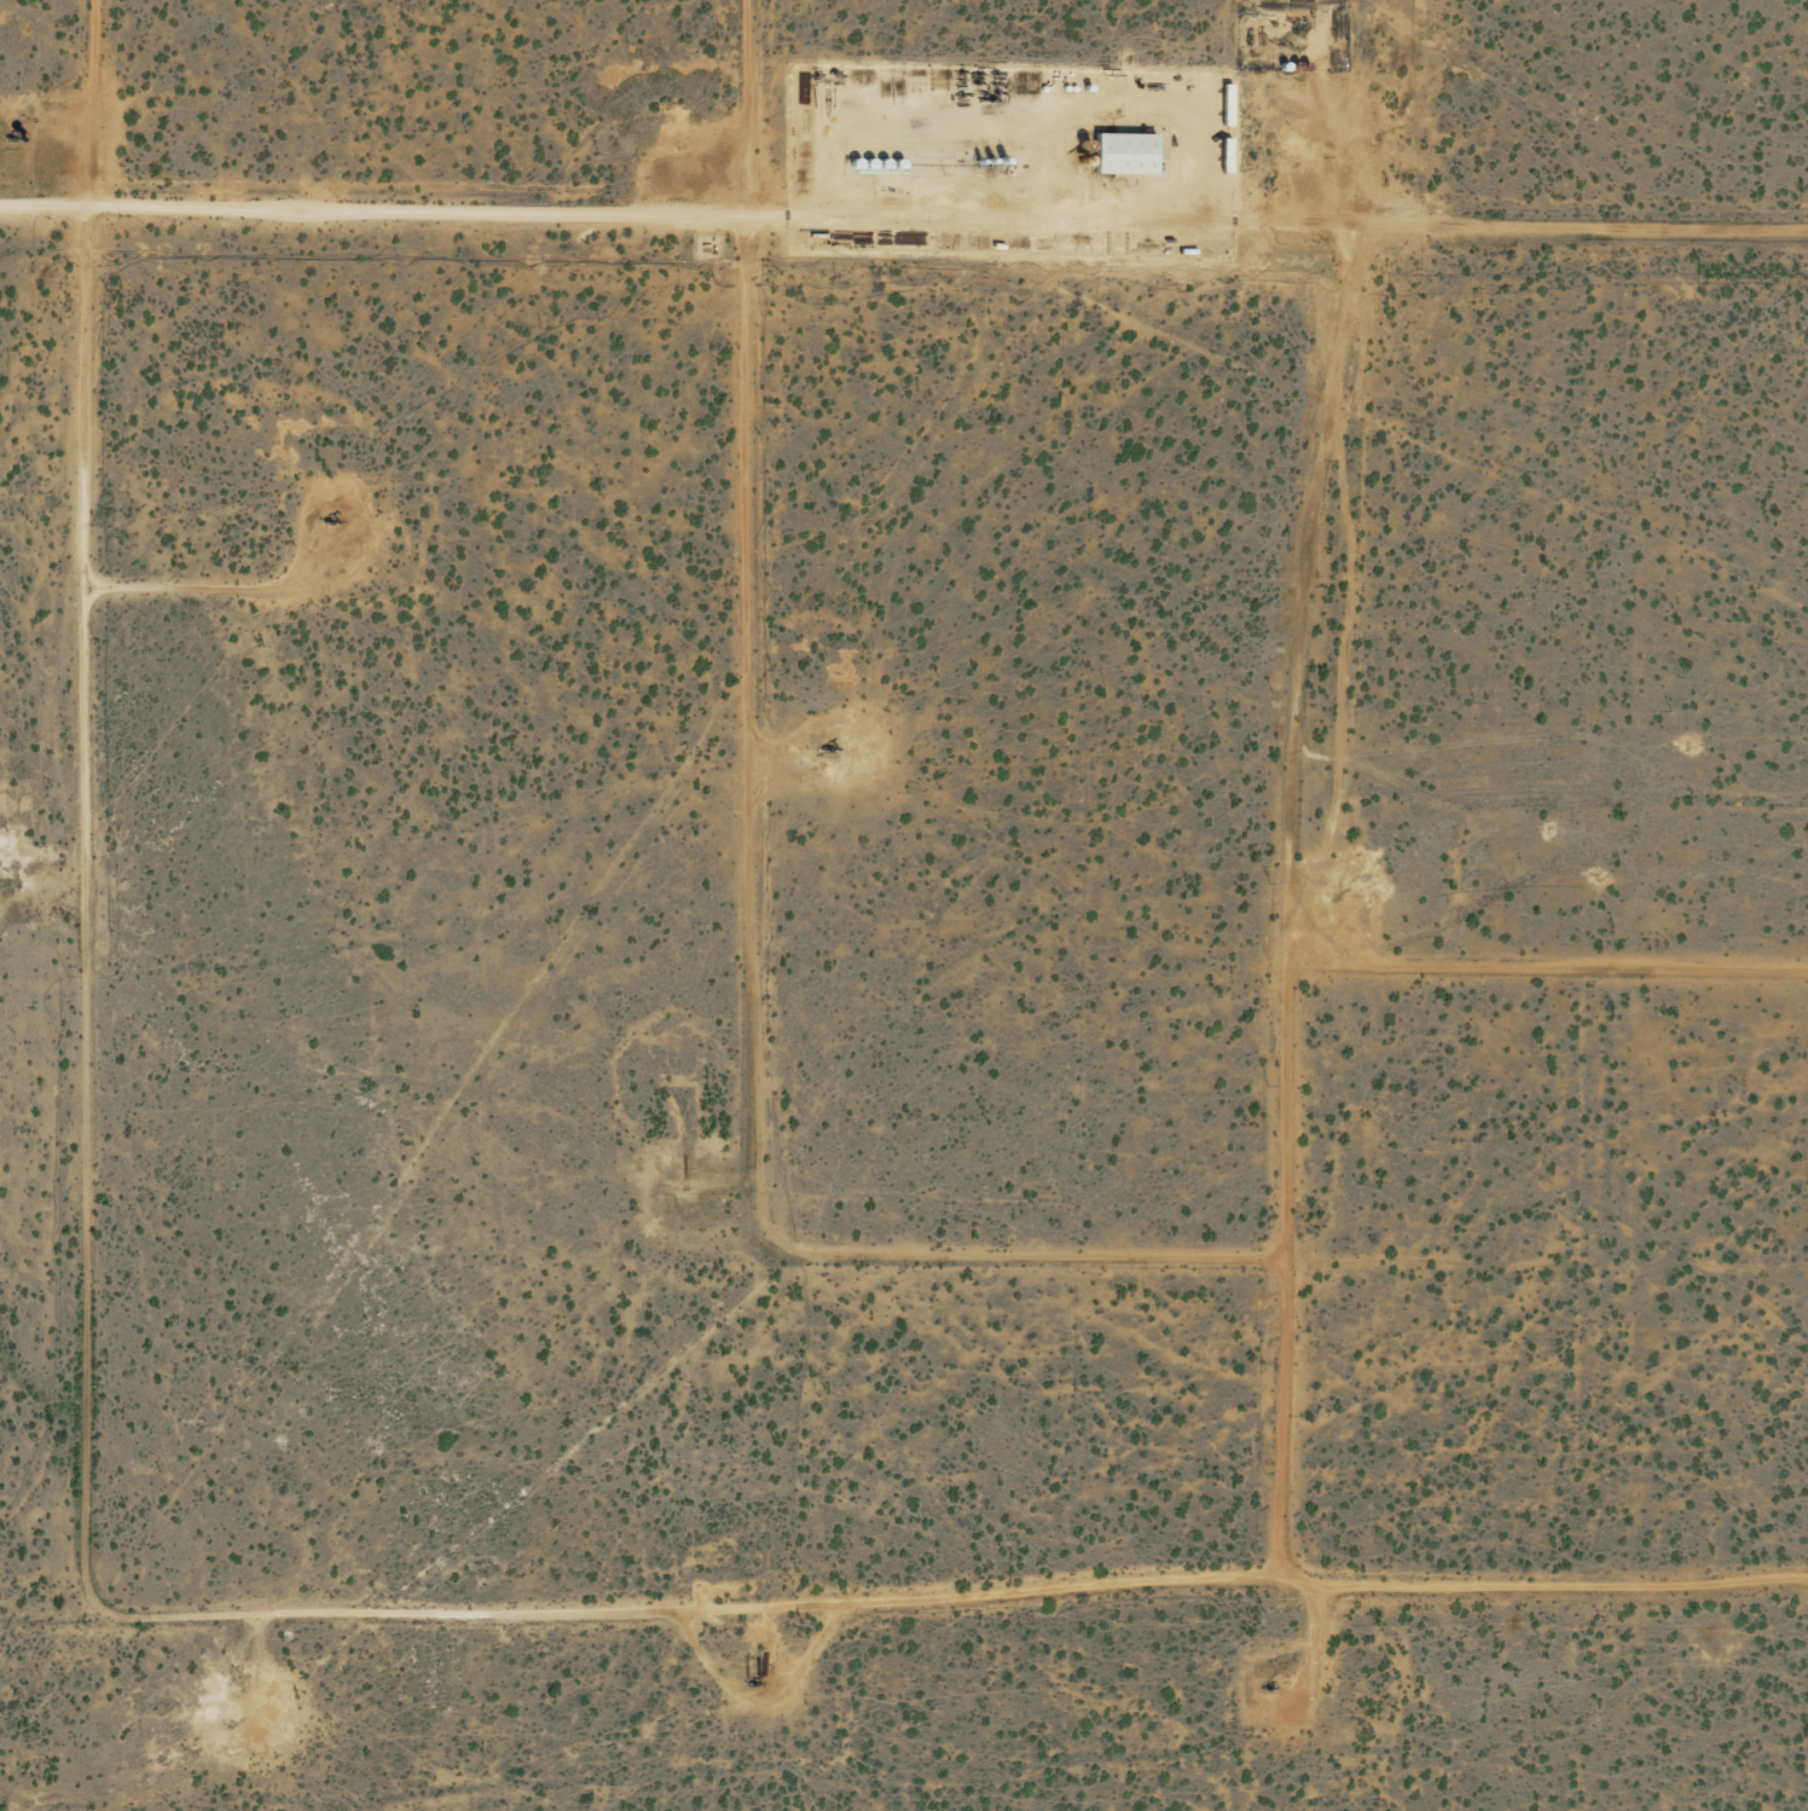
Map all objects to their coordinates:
road: (1019, 110)
building: (1124, 152)
road: (392, 213)
road: (1010, 226)

